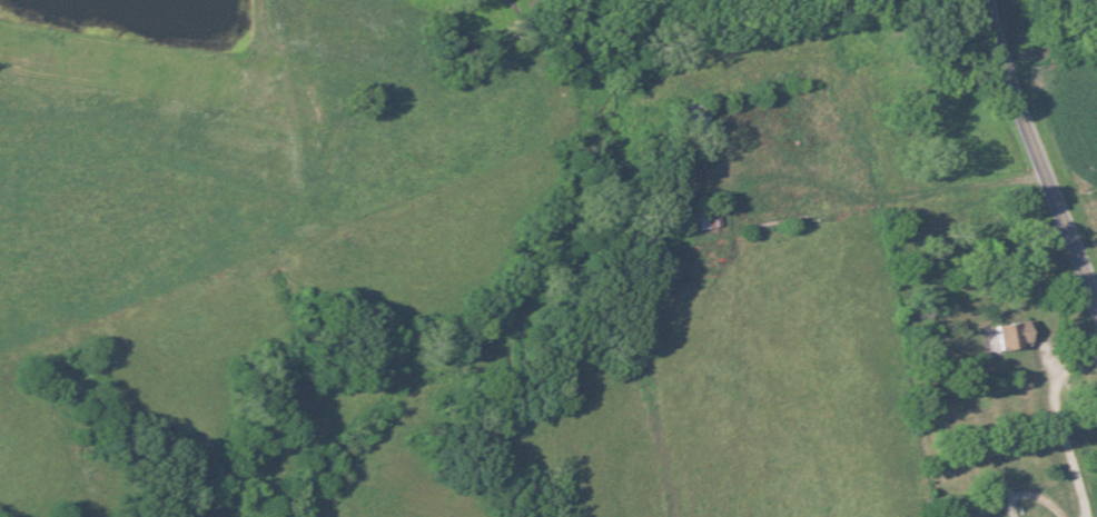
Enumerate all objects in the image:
building: (884, 78)
building: (689, 117)
building: (929, 119)
road: (1037, 153)
road: (906, 193)
building: (704, 216)
building: (1008, 335)
road: (1063, 424)

